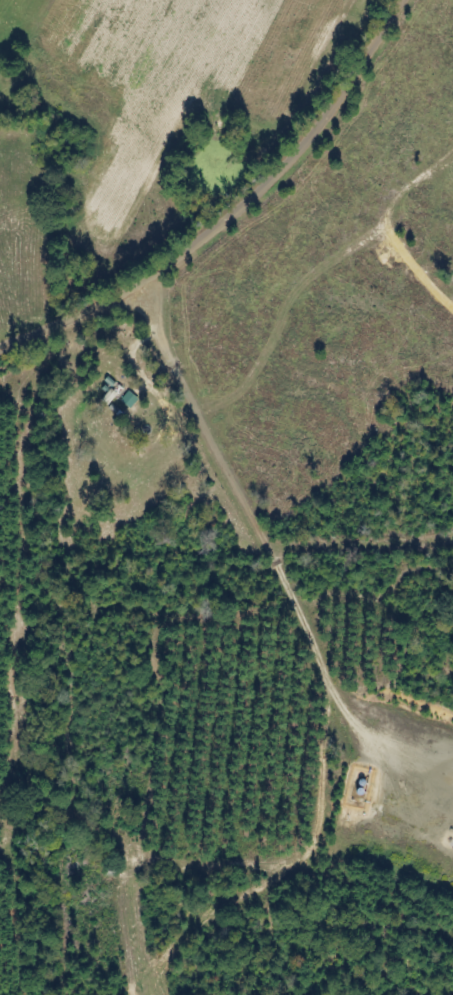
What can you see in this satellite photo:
road: (226, 197)
road: (46, 578)

